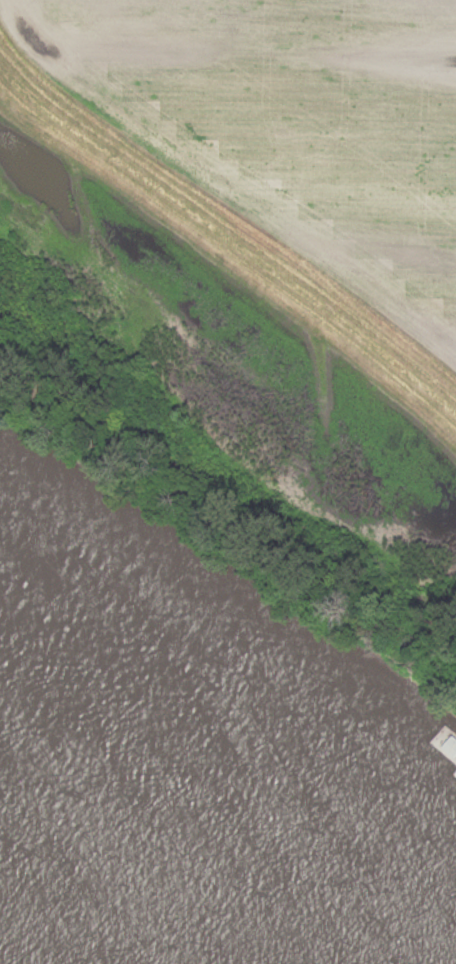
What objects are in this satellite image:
river: (123, 891)

